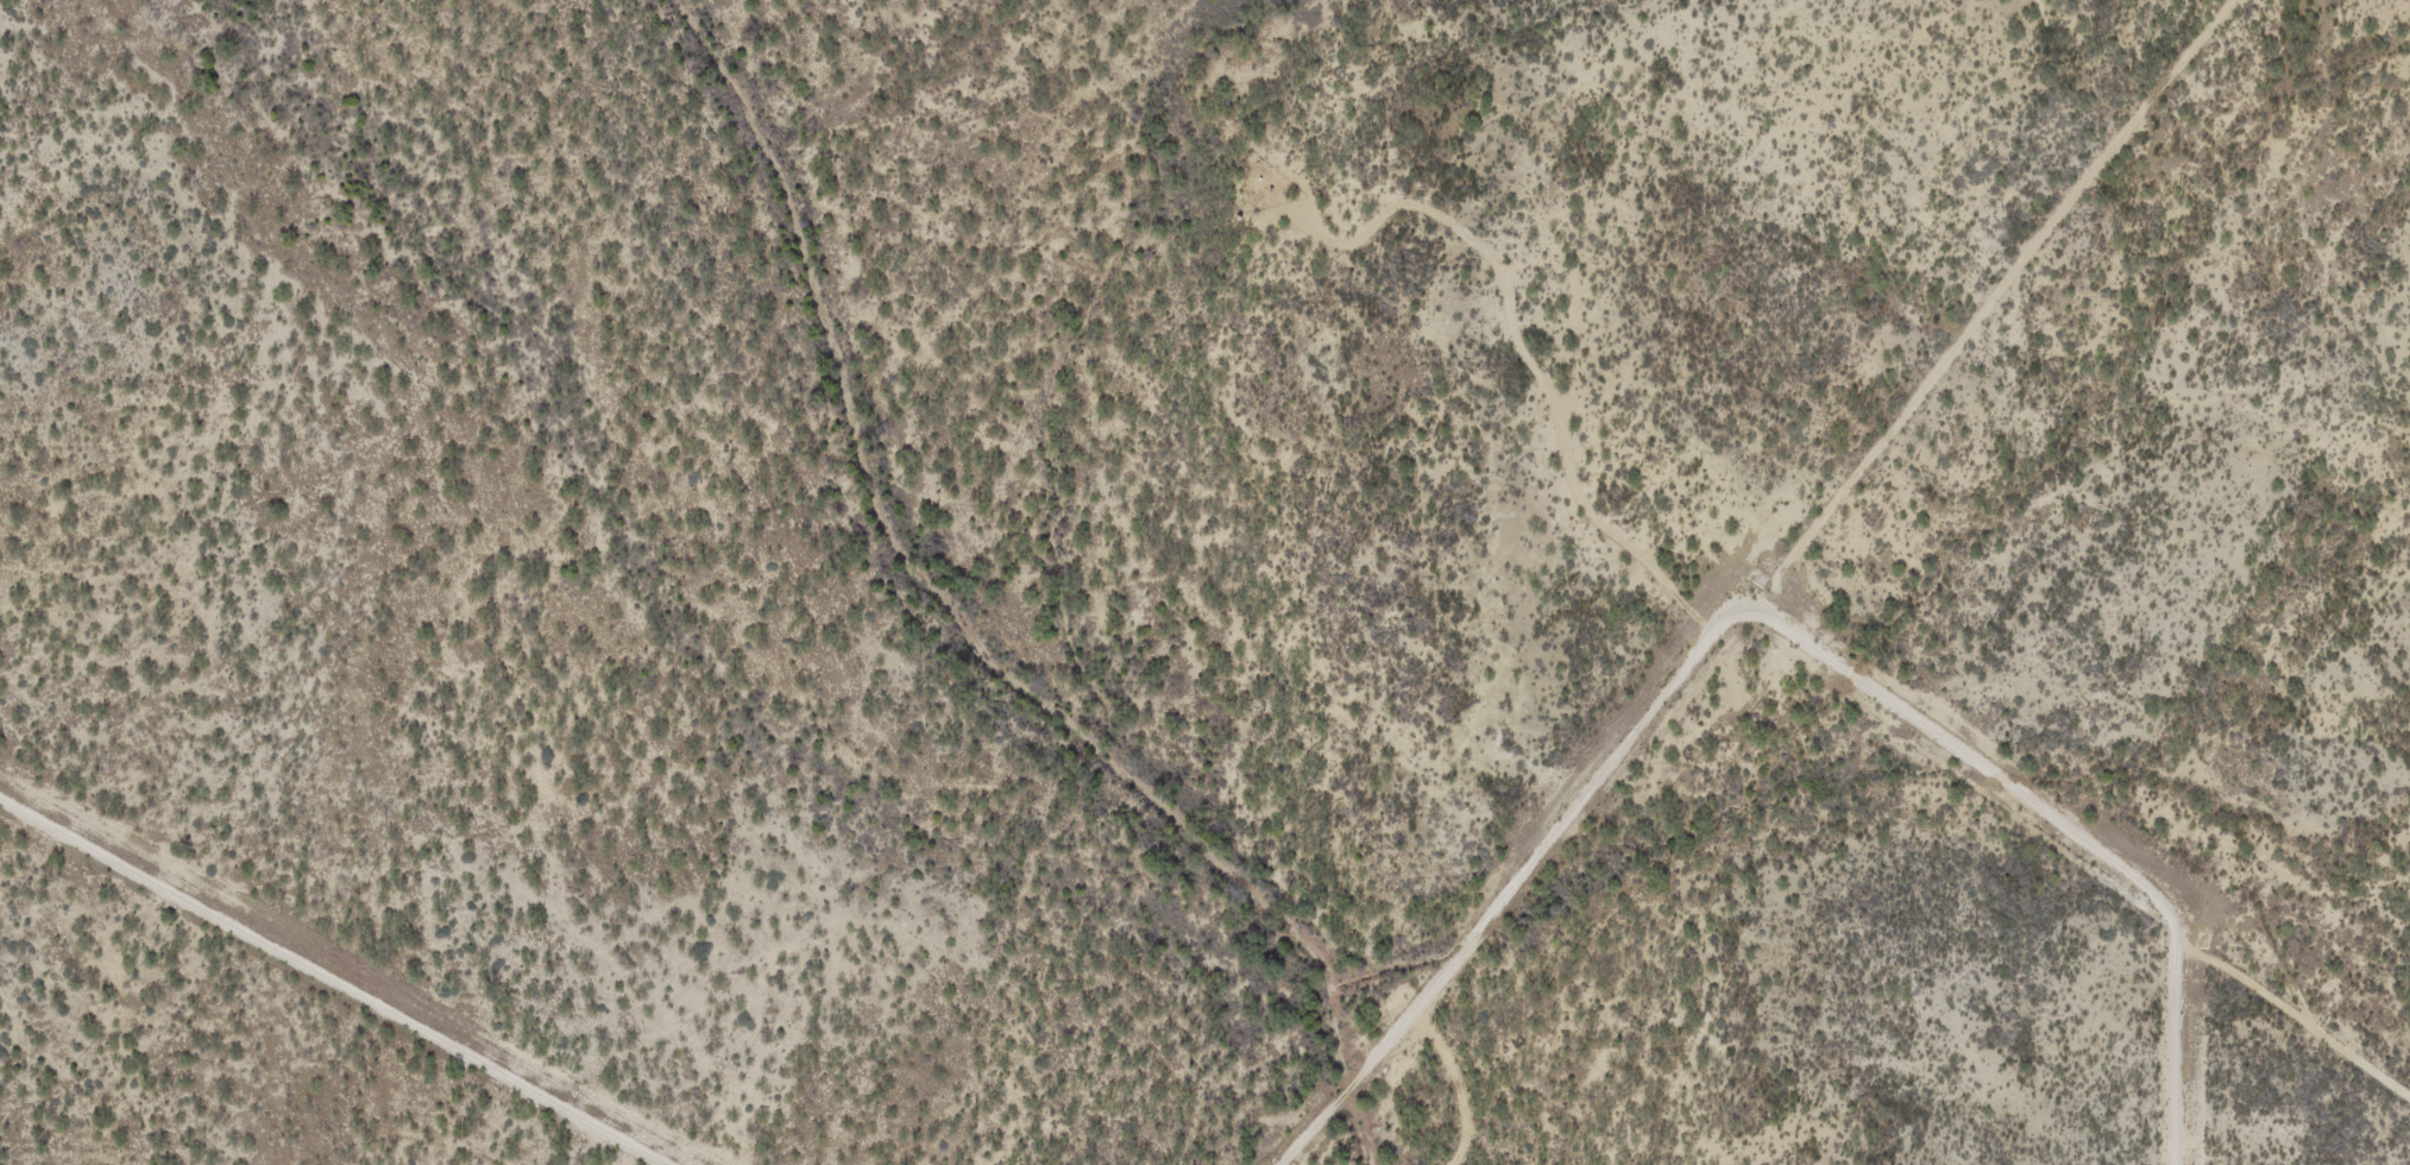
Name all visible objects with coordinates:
road: (1766, 622)
road: (328, 984)

